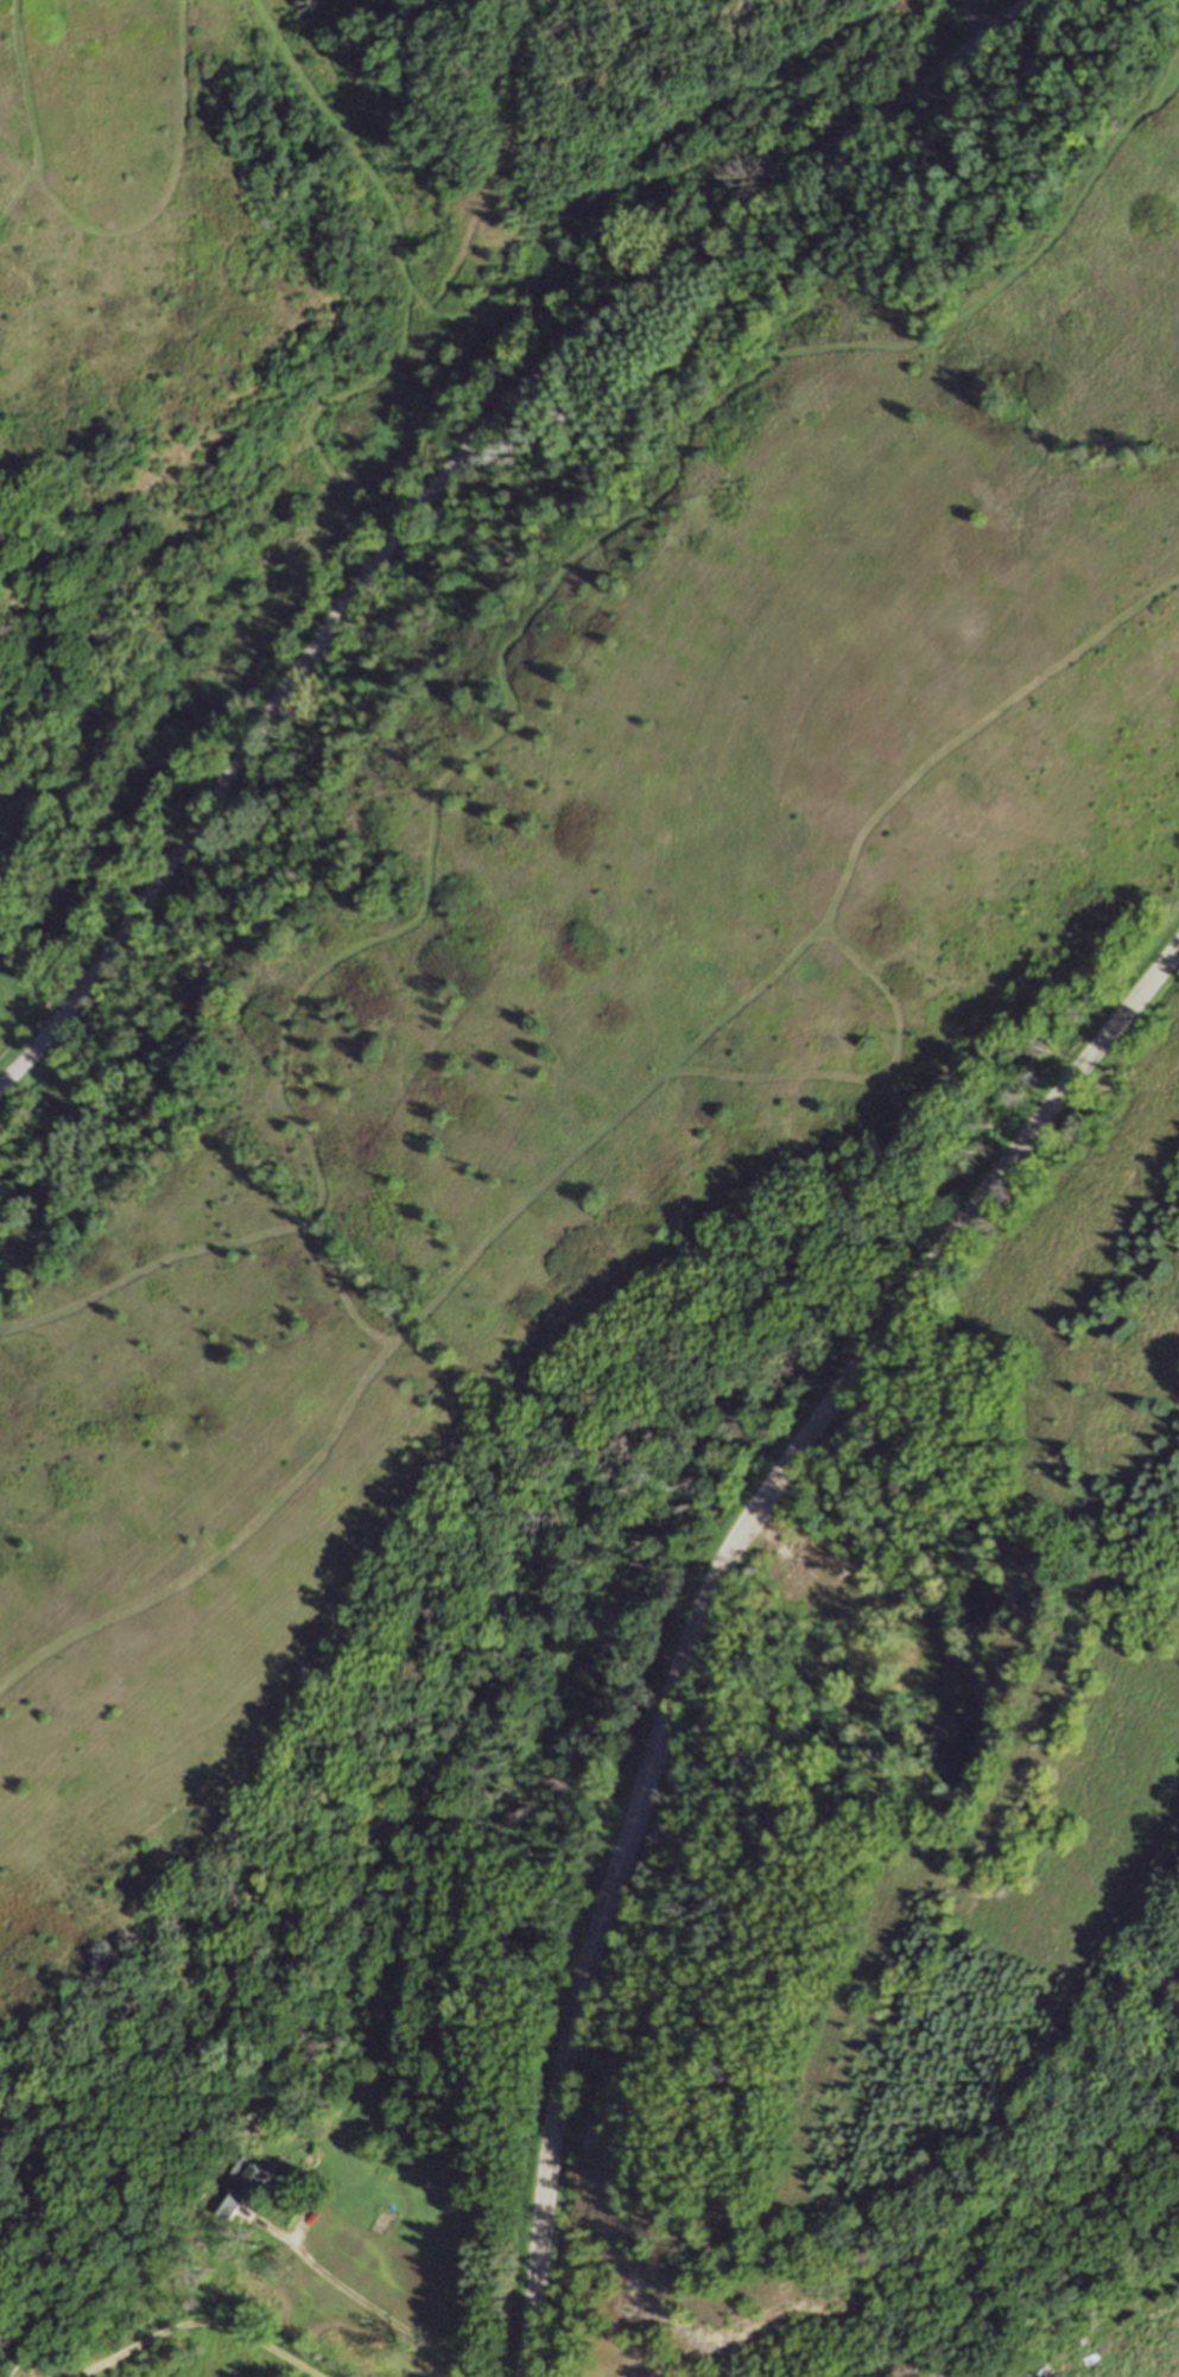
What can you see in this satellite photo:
road: (952, 26)
road: (445, 475)
road: (817, 1579)
road: (708, 1598)
quarry: (876, 1623)
building: (237, 2185)
building: (171, 2225)
road: (368, 2248)
road: (355, 2296)
road: (196, 2321)

